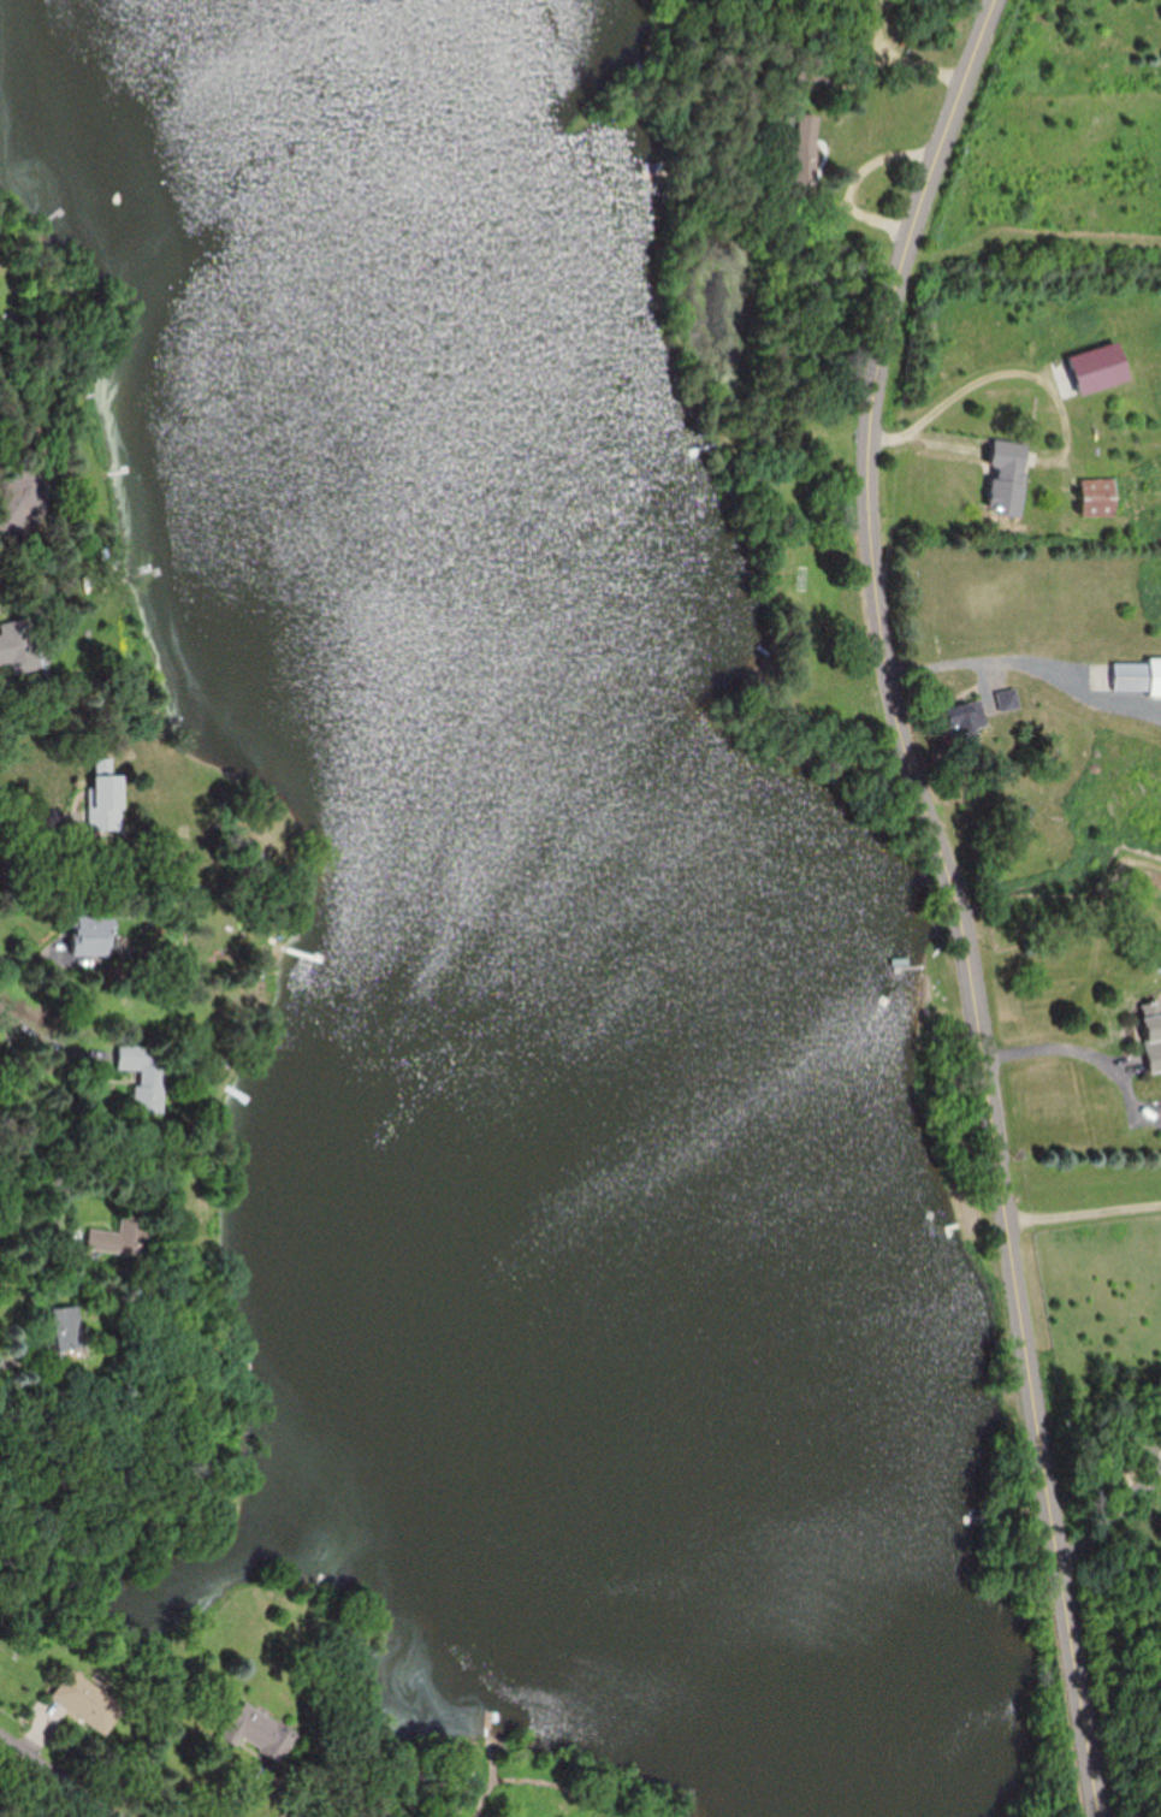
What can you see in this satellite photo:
building: (805, 147)
building: (1013, 408)
building: (1009, 477)
building: (1100, 496)
building: (31, 499)
building: (19, 647)
road: (1019, 658)
building: (1138, 676)
building: (1008, 699)
building: (966, 718)
building: (106, 798)
park: (1155, 845)
road: (958, 898)
building: (93, 934)
road: (34, 961)
building: (1154, 1034)
road: (1071, 1043)
building: (146, 1075)
road: (1086, 1217)
building: (64, 1330)
road: (1116, 1502)
building: (88, 1701)
building: (260, 1732)
road: (60, 1775)

